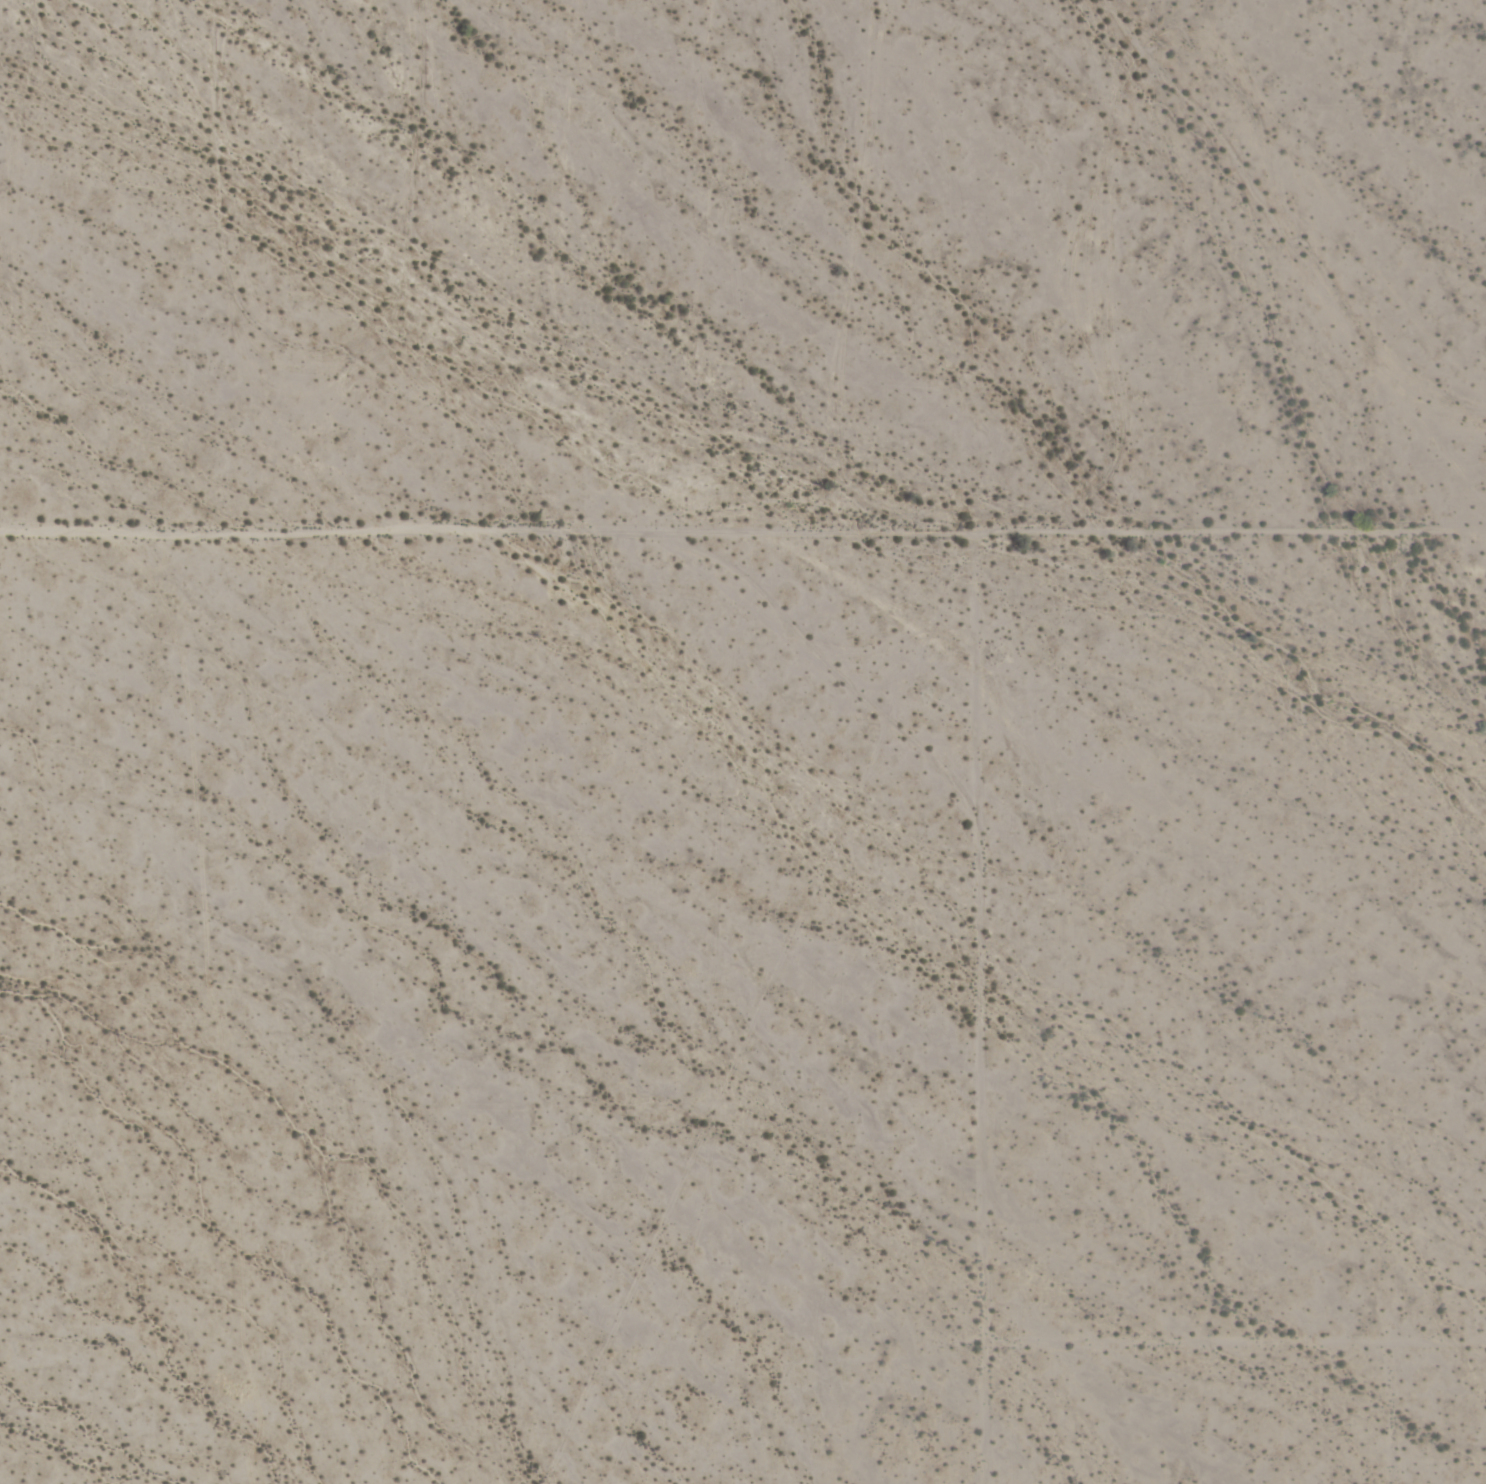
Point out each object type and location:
road: (742, 507)
road: (956, 994)
road: (1223, 1338)
road: (1363, 1412)

